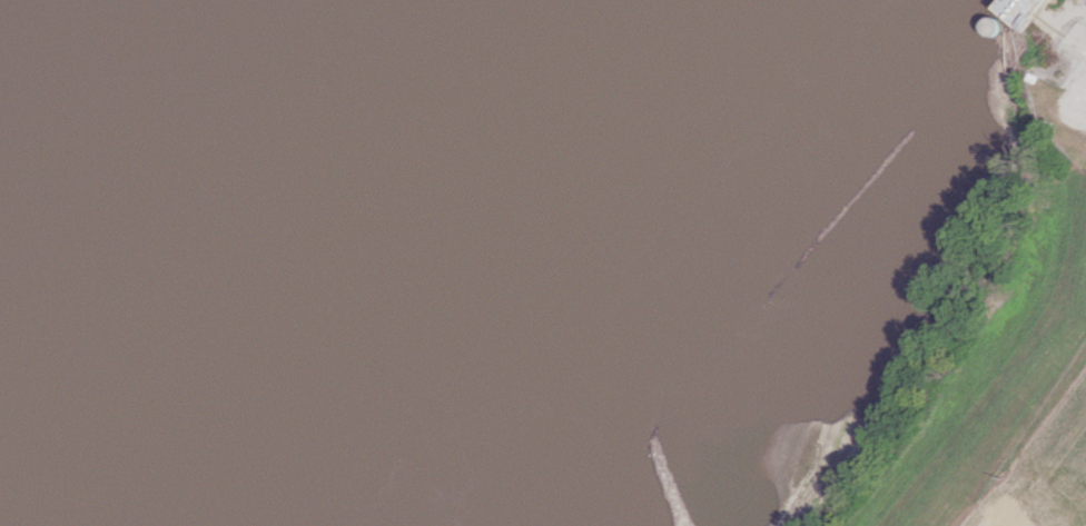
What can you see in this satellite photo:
building: (1020, 10)
road: (1059, 19)
road: (1077, 87)
river: (384, 117)
river: (124, 334)
crop: (1044, 468)

